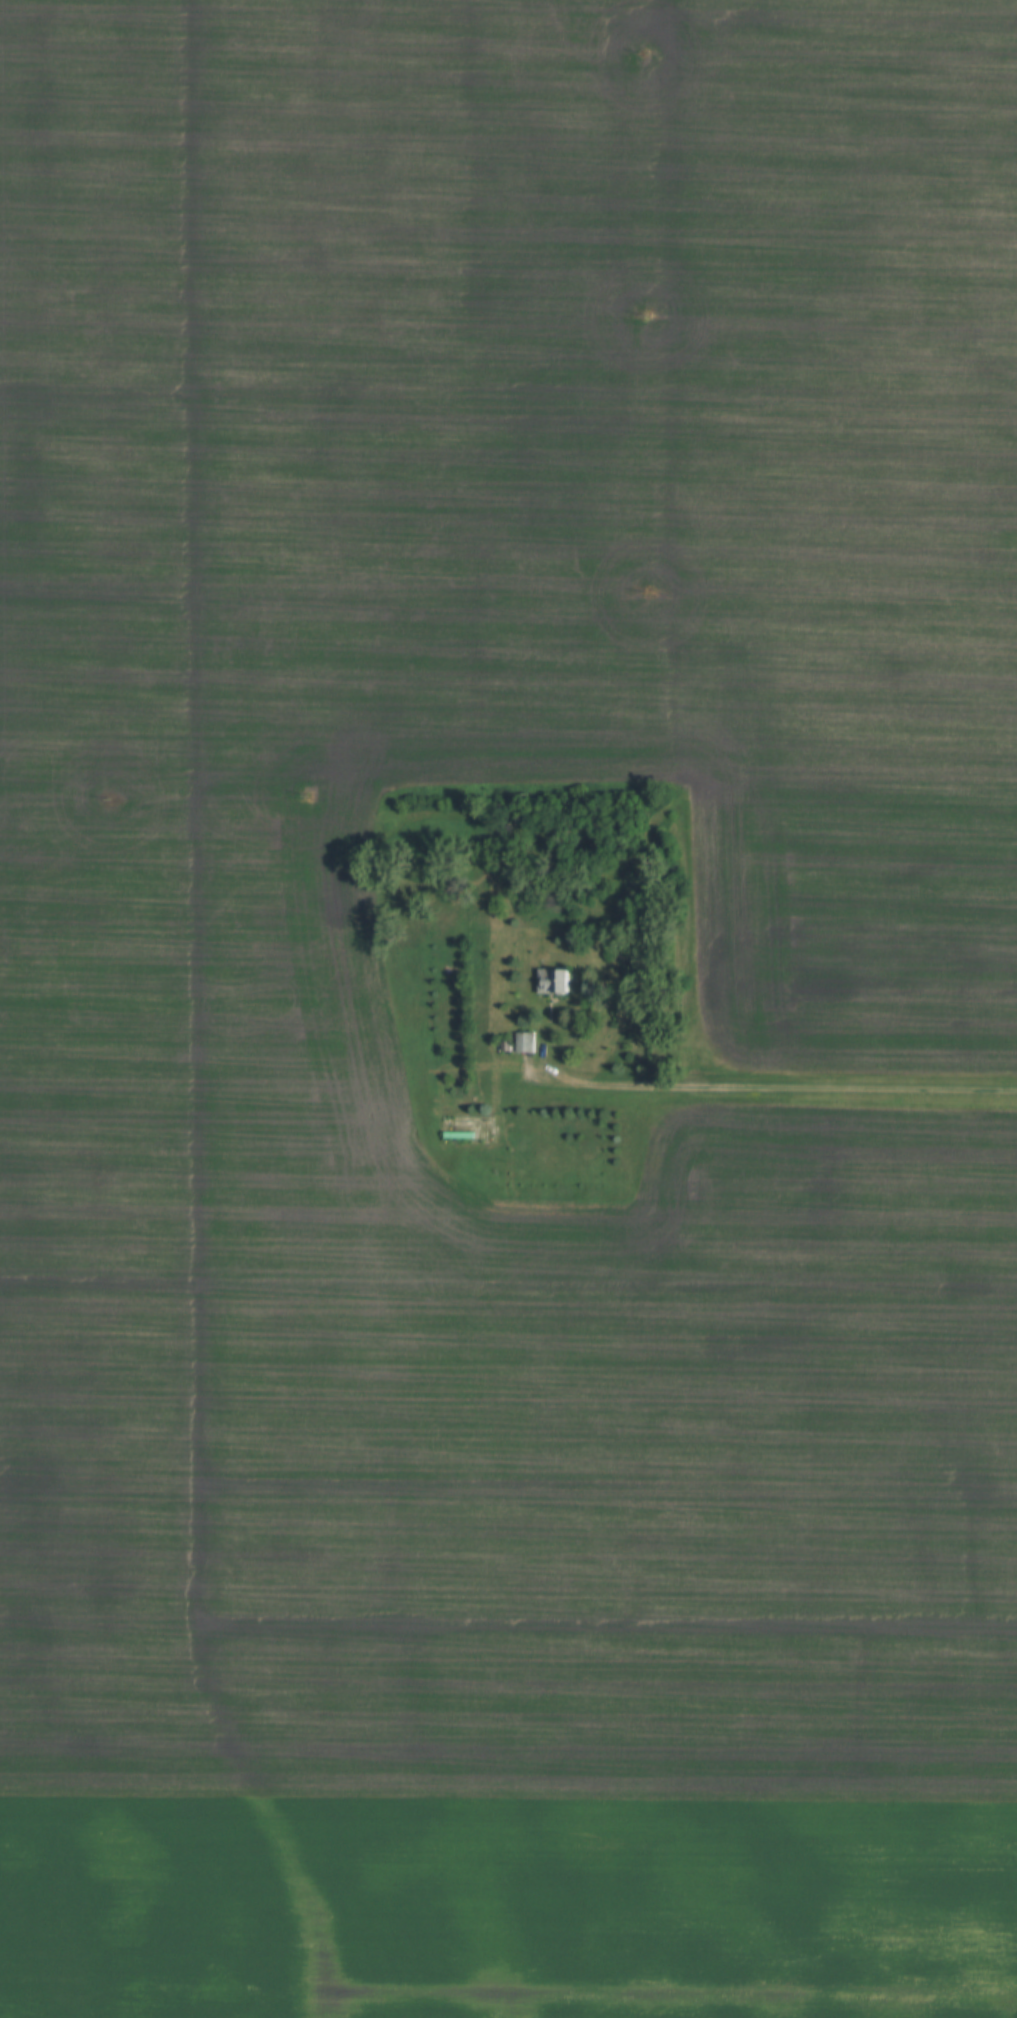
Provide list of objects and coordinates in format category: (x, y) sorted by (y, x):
road: (771, 1088)

